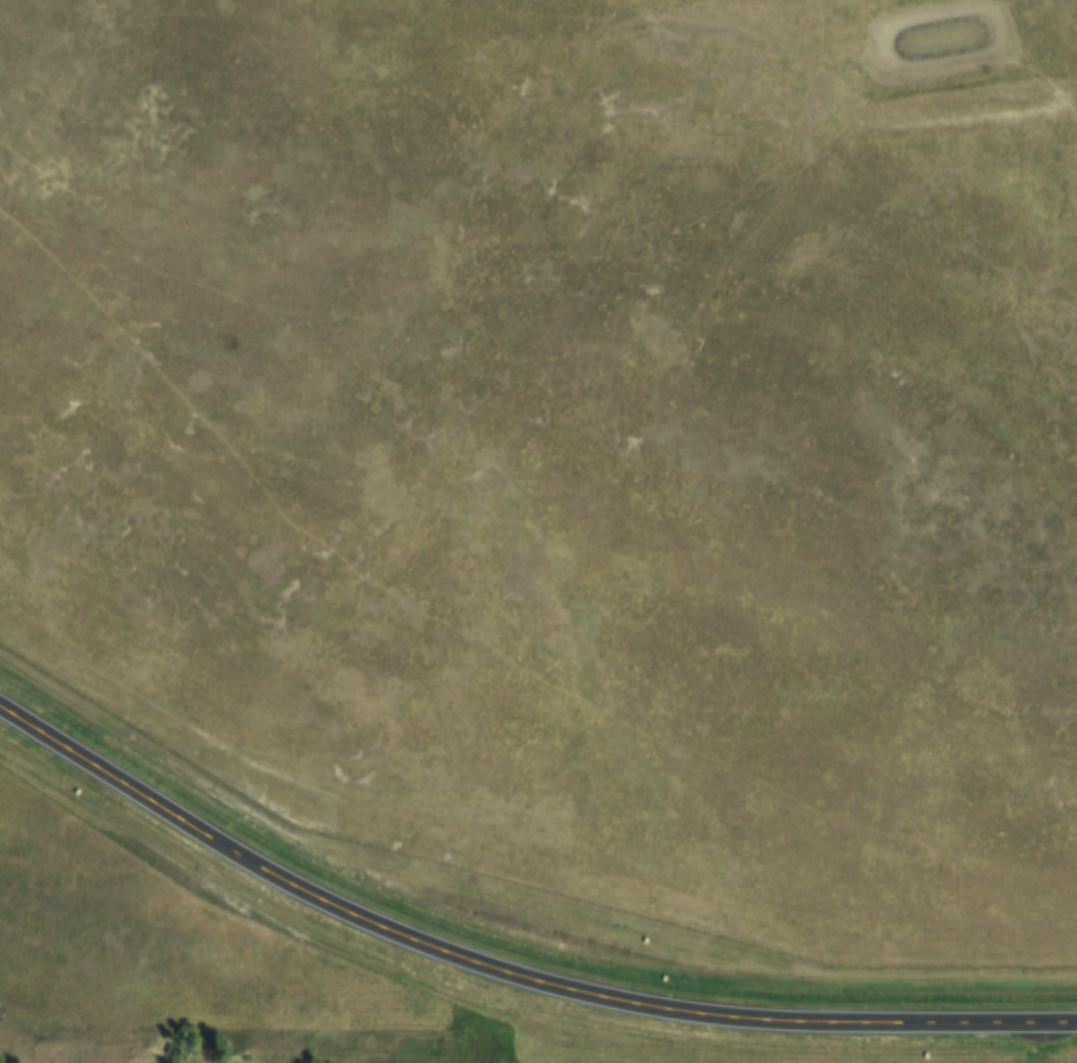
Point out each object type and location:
road: (505, 978)

